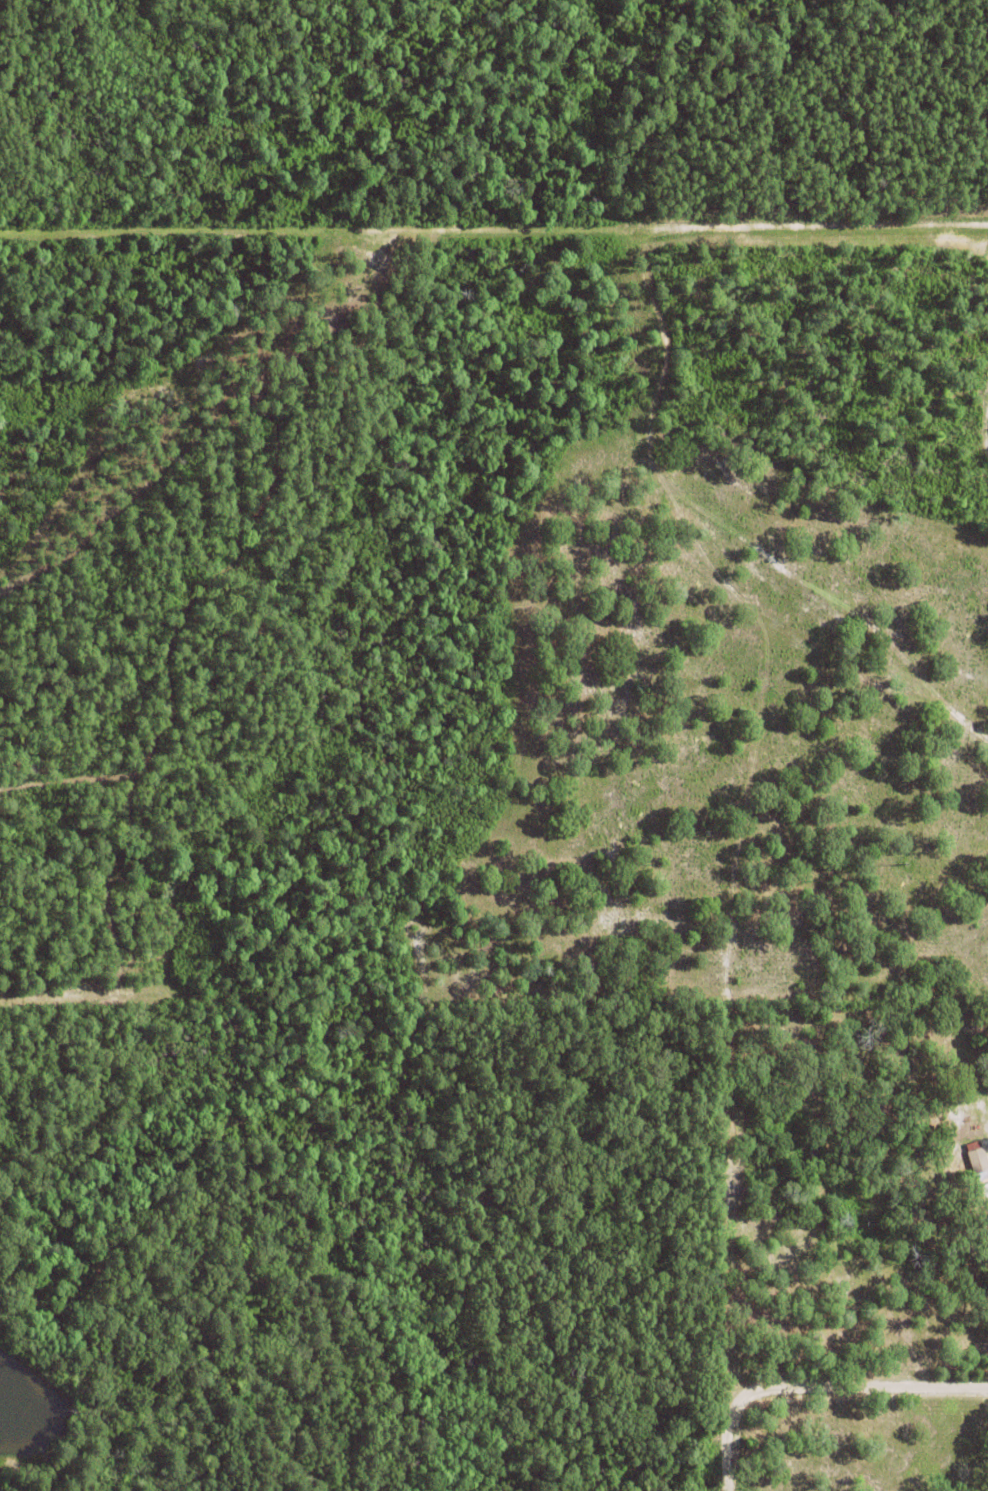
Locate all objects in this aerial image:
building: (77, 1084)
building: (970, 1130)
building: (977, 1162)
road: (814, 1383)

